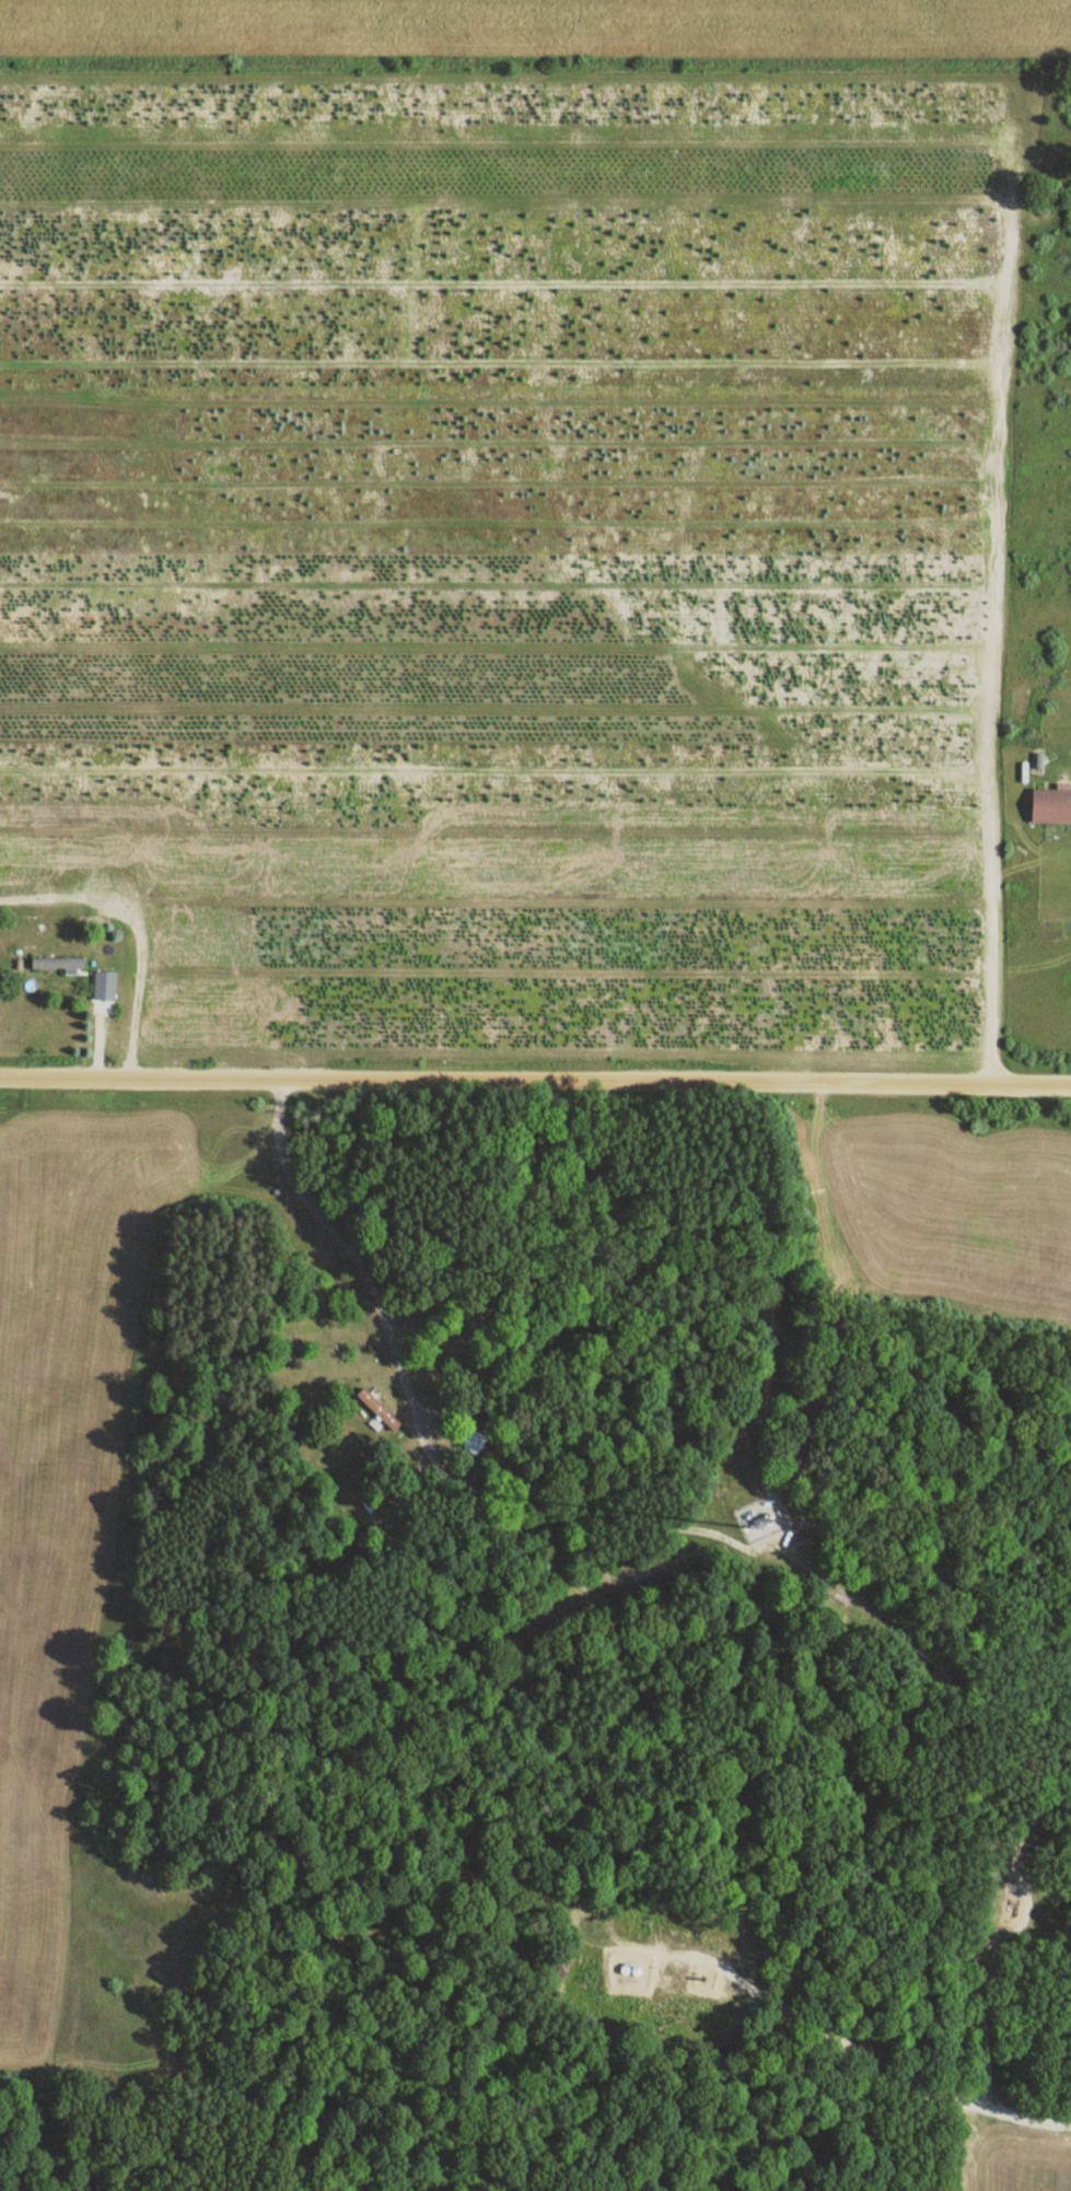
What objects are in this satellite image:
building: (1049, 808)
building: (57, 966)
building: (103, 988)
road: (535, 1082)
road: (350, 1250)
building: (376, 1412)
building: (475, 1444)

